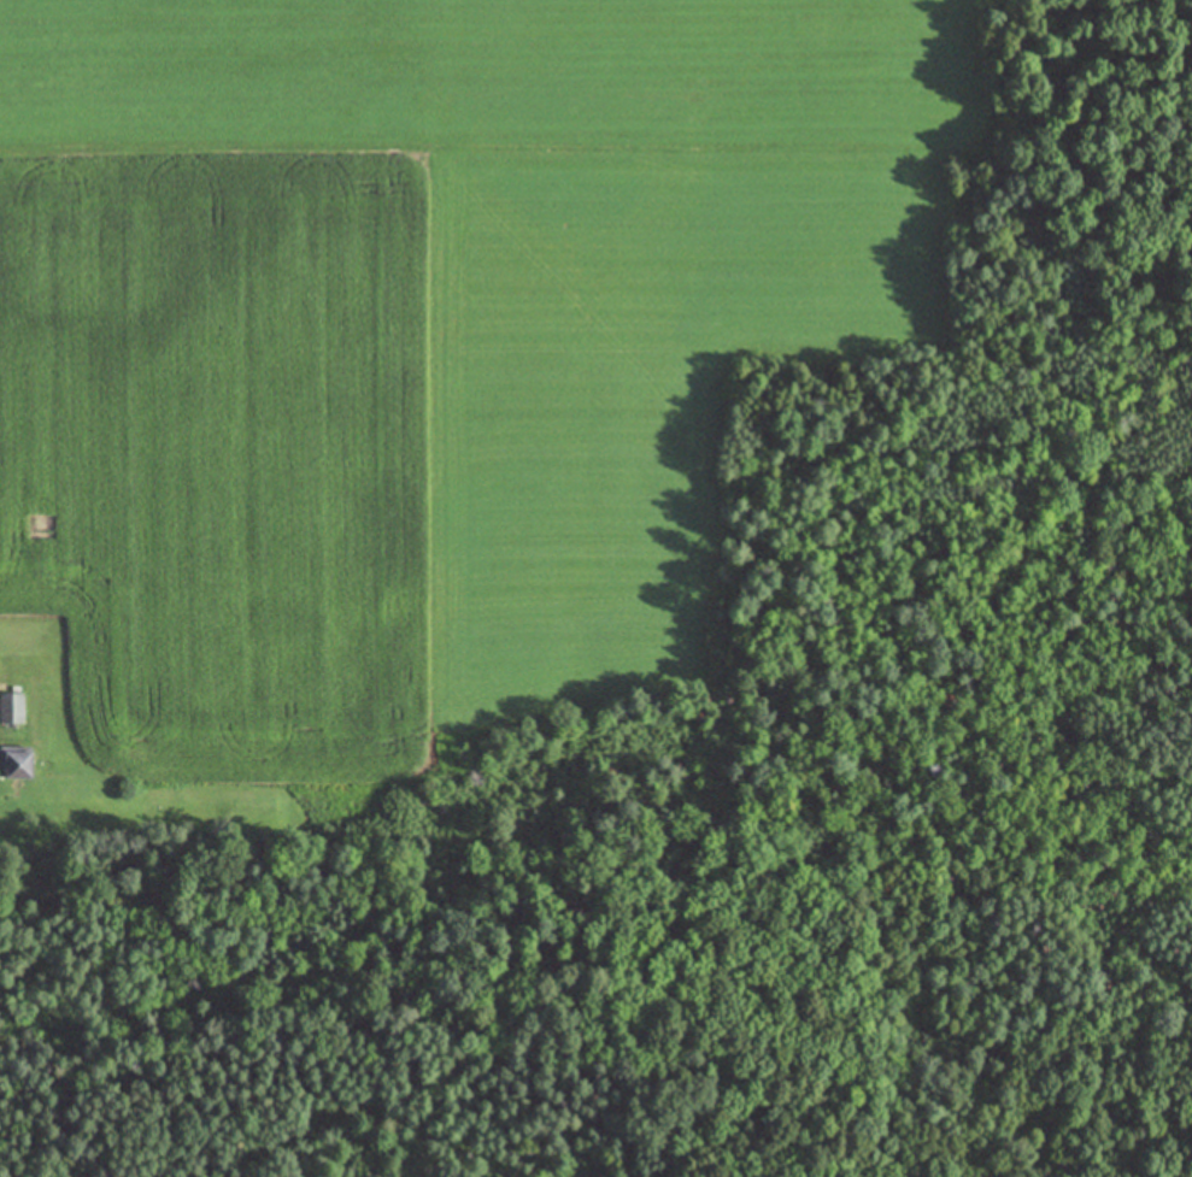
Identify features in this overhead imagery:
building: (13, 708)
building: (20, 764)

